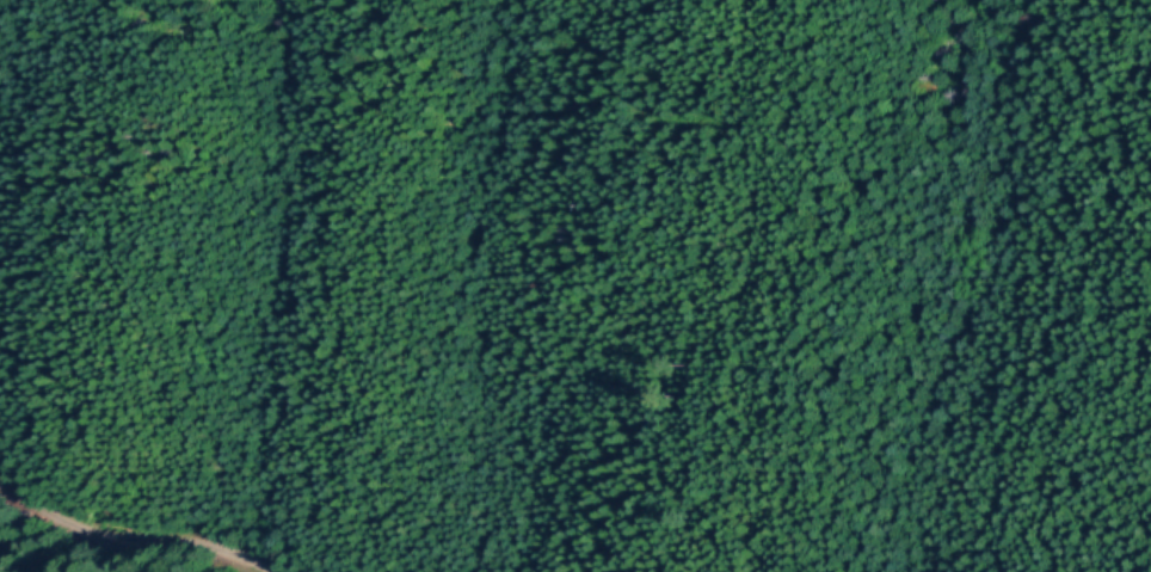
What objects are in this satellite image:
road: (104, 540)

